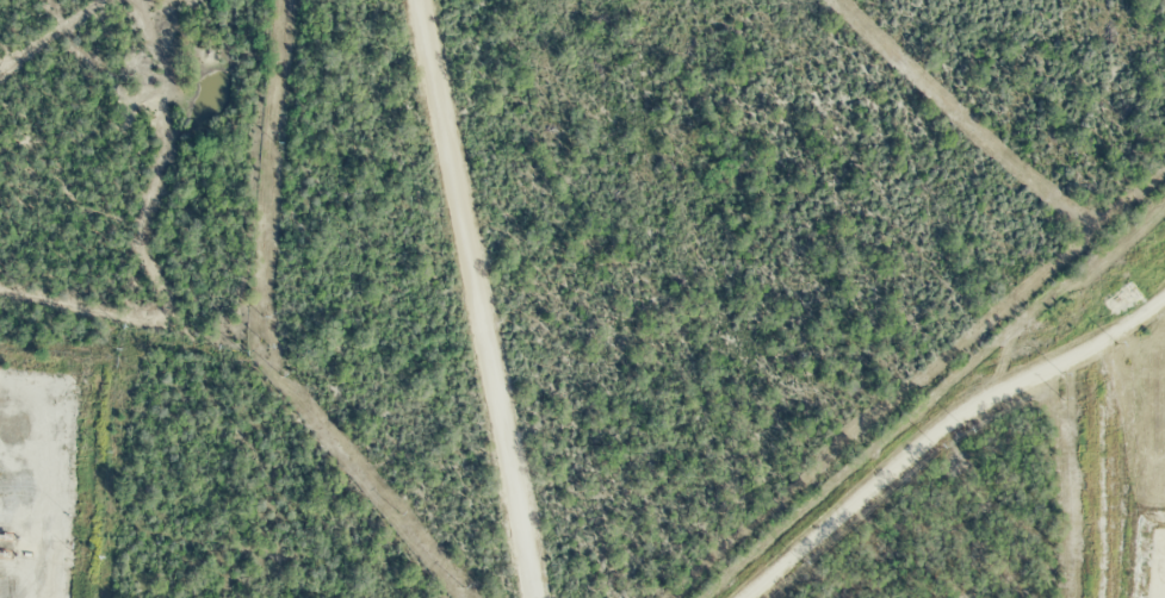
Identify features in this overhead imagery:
road: (481, 299)
road: (938, 422)

